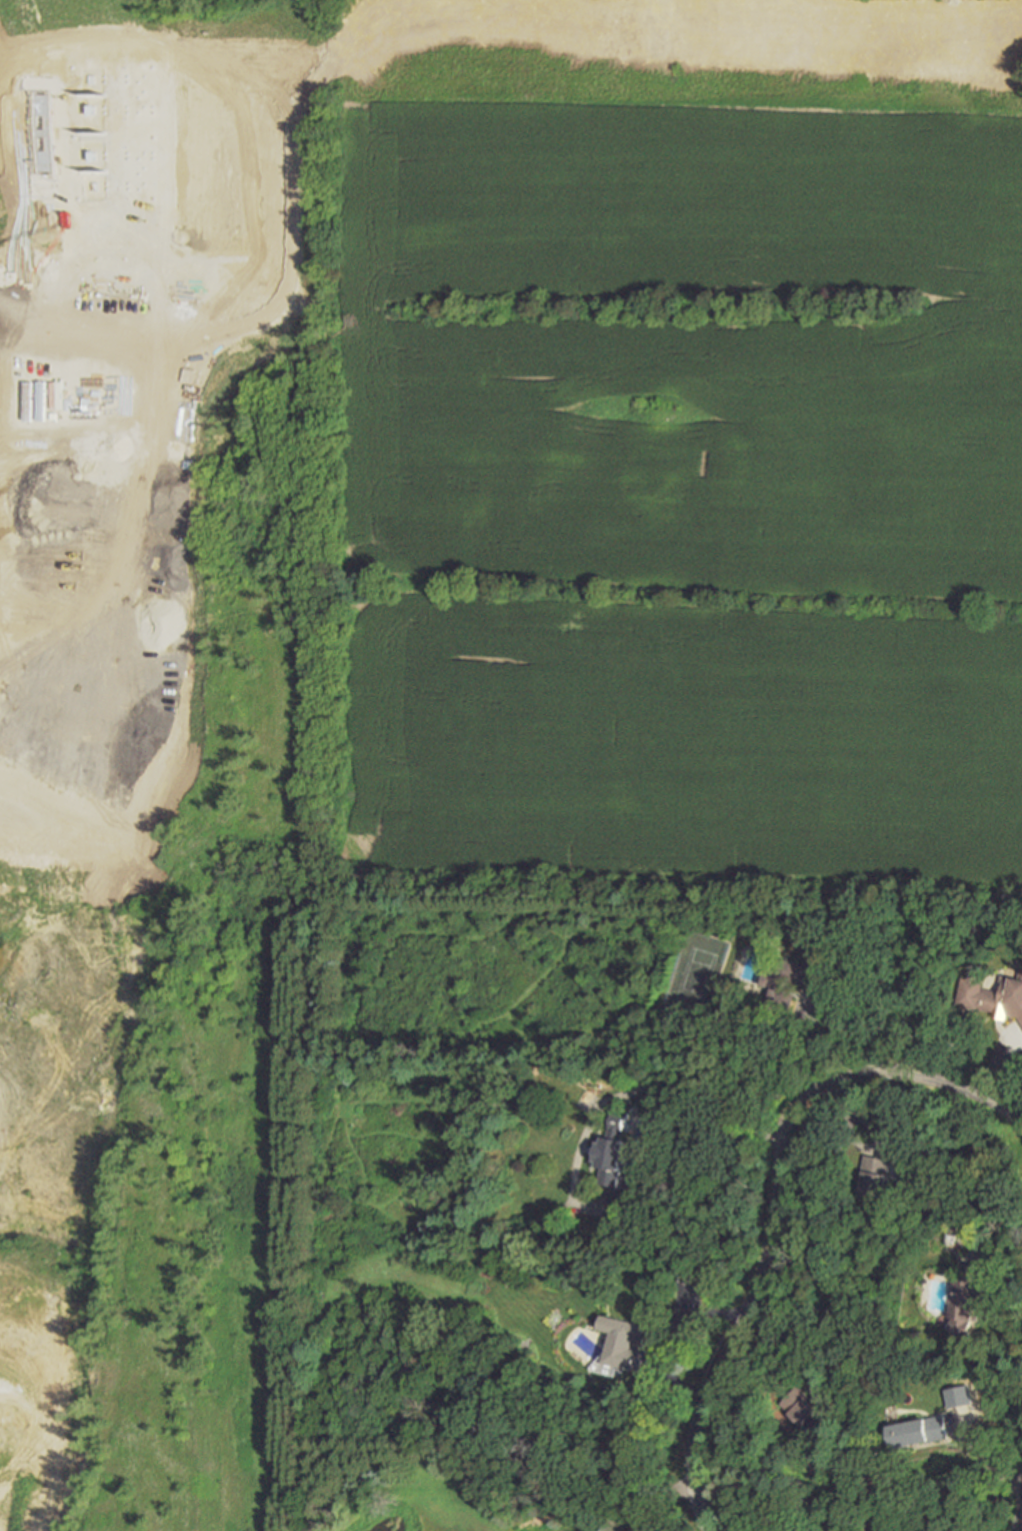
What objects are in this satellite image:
crop: (669, 447)
quarry: (154, 751)
building: (789, 982)
building: (993, 995)
road: (867, 1028)
road: (654, 1083)
building: (614, 1163)
building: (876, 1176)
road: (778, 1203)
road: (990, 1219)
building: (951, 1227)
building: (687, 1278)
building: (966, 1299)
road: (661, 1332)
building: (629, 1345)
building: (810, 1409)
building: (920, 1431)
road: (754, 1479)
road: (1020, 1526)

